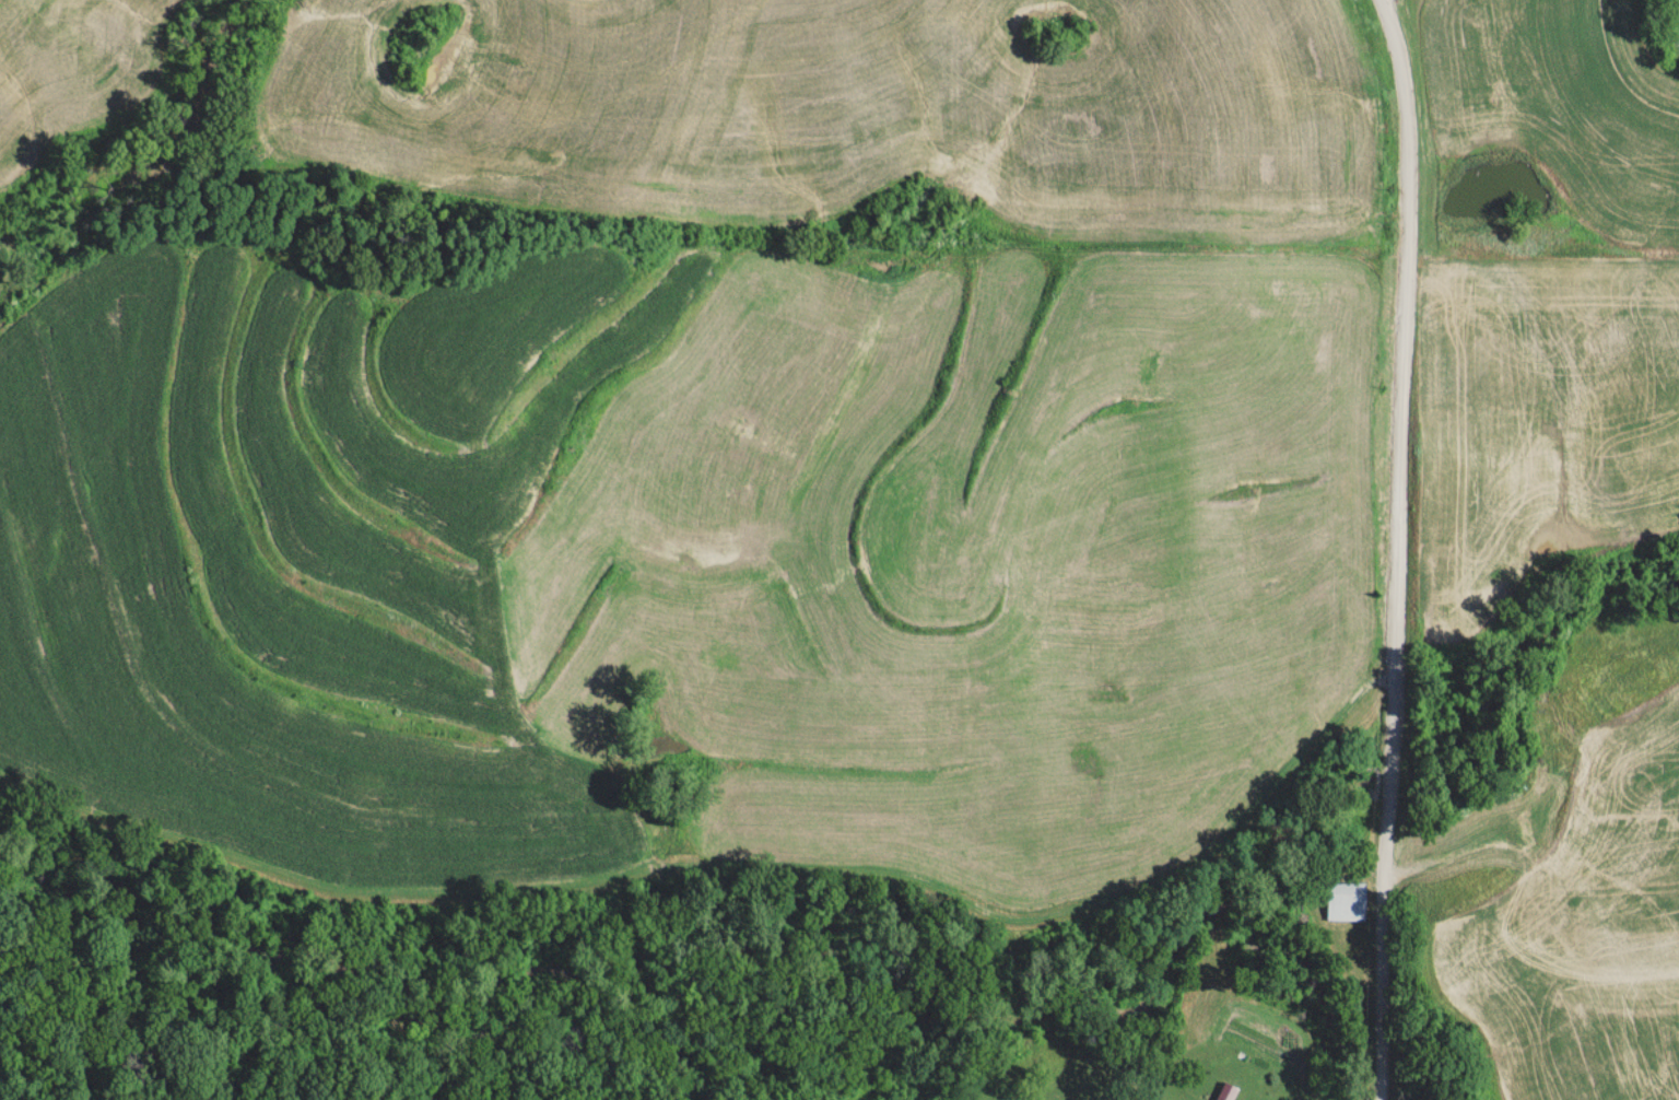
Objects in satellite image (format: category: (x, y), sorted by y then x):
road: (1402, 538)
road: (1514, 834)
road: (1426, 862)
building: (1349, 901)
building: (1242, 1088)
road: (1384, 1090)

